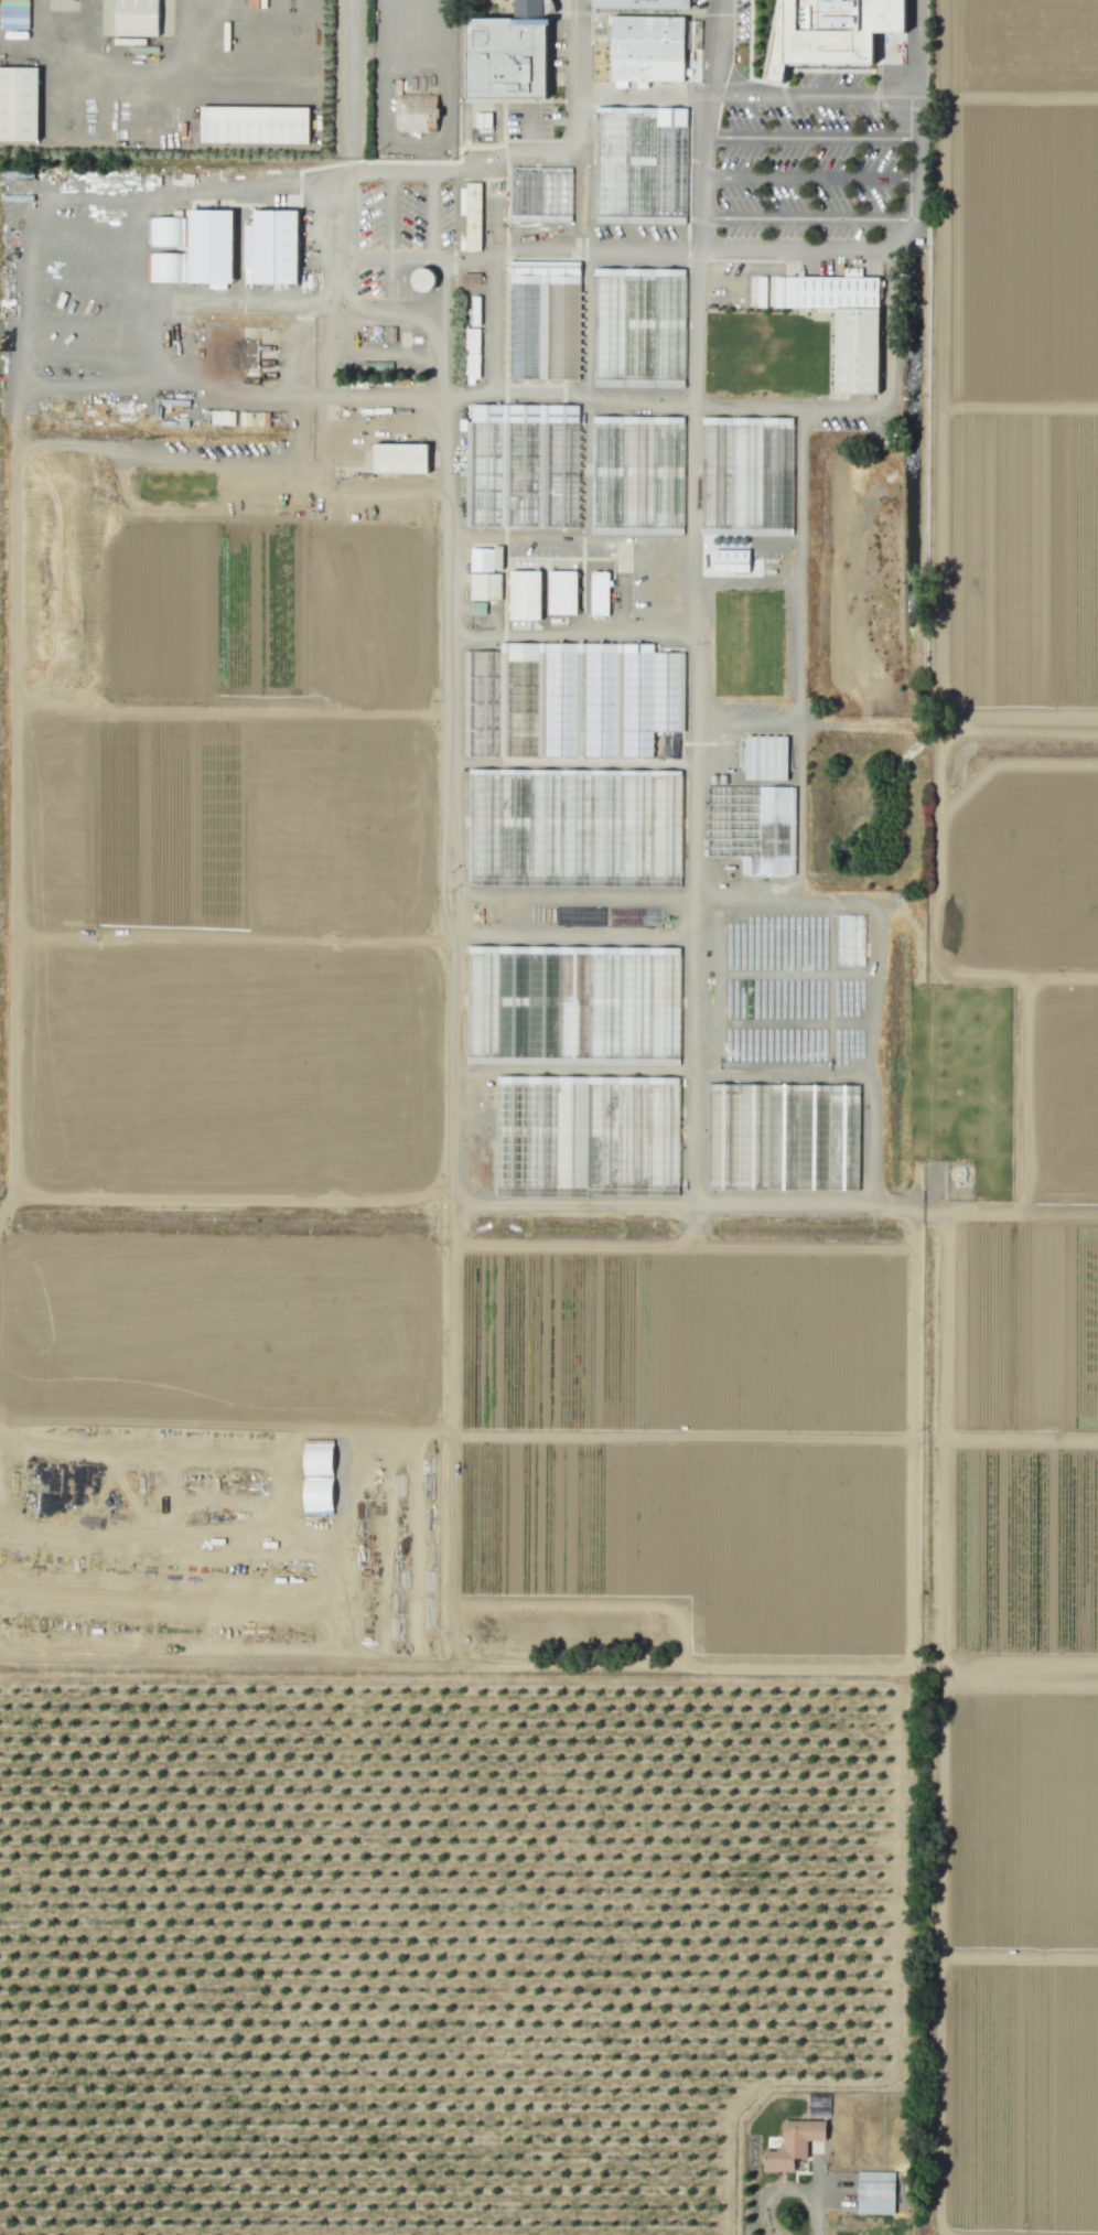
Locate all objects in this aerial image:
building: (642, 3)
building: (136, 18)
building: (828, 32)
building: (237, 36)
road: (712, 47)
building: (646, 49)
road: (917, 49)
building: (506, 54)
road: (593, 96)
road: (815, 96)
building: (18, 104)
building: (413, 112)
road: (703, 115)
road: (918, 117)
building: (482, 120)
parking lot: (527, 120)
building: (252, 125)
road: (811, 137)
road: (499, 153)
road: (702, 157)
road: (919, 159)
building: (638, 164)
road: (343, 170)
road: (410, 178)
road: (810, 178)
road: (250, 186)
road: (84, 196)
building: (539, 196)
road: (701, 196)
road: (918, 211)
road: (158, 213)
parking lot: (402, 216)
building: (471, 218)
road: (805, 218)
road: (431, 219)
road: (914, 219)
road: (93, 227)
road: (700, 234)
road: (574, 236)
road: (341, 240)
road: (158, 246)
building: (209, 246)
building: (273, 247)
parking lot: (356, 250)
road: (814, 250)
road: (410, 261)
road: (88, 262)
building: (470, 279)
building: (421, 280)
storage tank: (421, 280)
parking lot: (84, 288)
road: (20, 291)
road: (88, 296)
road: (305, 300)
road: (158, 310)
building: (542, 320)
building: (841, 323)
building: (637, 326)
road: (697, 327)
road: (88, 330)
road: (366, 352)
building: (471, 353)
road: (87, 357)
crop: (1022, 357)
road: (451, 359)
road: (158, 373)
road: (73, 386)
road: (324, 397)
road: (862, 401)
building: (398, 458)
building: (520, 465)
building: (636, 475)
building: (745, 476)
road: (800, 495)
building: (485, 559)
building: (730, 560)
building: (484, 587)
building: (561, 592)
building: (599, 593)
building: (524, 595)
building: (476, 609)
building: (570, 699)
road: (800, 708)
building: (765, 757)
building: (573, 827)
road: (693, 836)
road: (453, 858)
building: (572, 1004)
building: (584, 1136)
building: (781, 1136)
crop: (1020, 1197)
building: (316, 1476)
building: (793, 2145)
road: (785, 2190)
building: (874, 2192)

